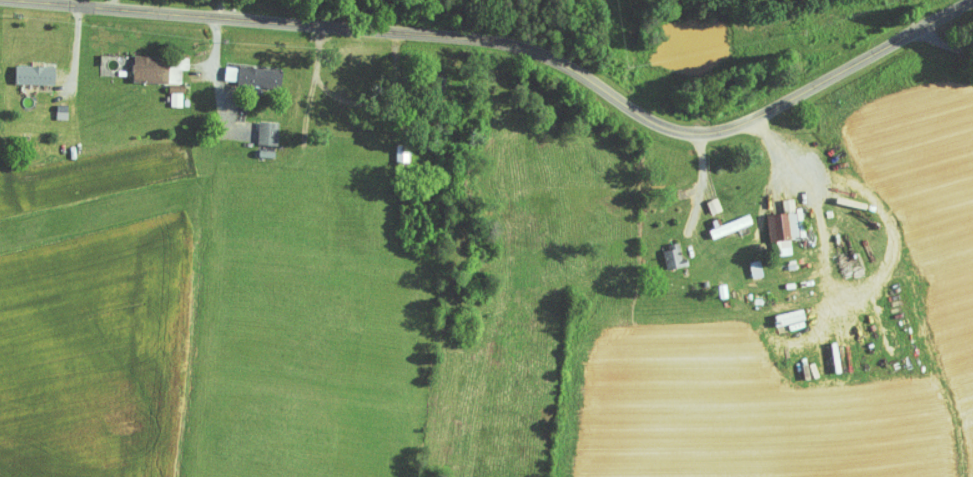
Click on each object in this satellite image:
road: (945, 44)
road: (524, 47)
building: (135, 62)
building: (20, 68)
building: (238, 69)
road: (220, 82)
building: (162, 93)
building: (253, 127)
building: (388, 146)
road: (780, 151)
road: (702, 183)
building: (700, 199)
building: (771, 220)
building: (659, 250)
building: (741, 262)

